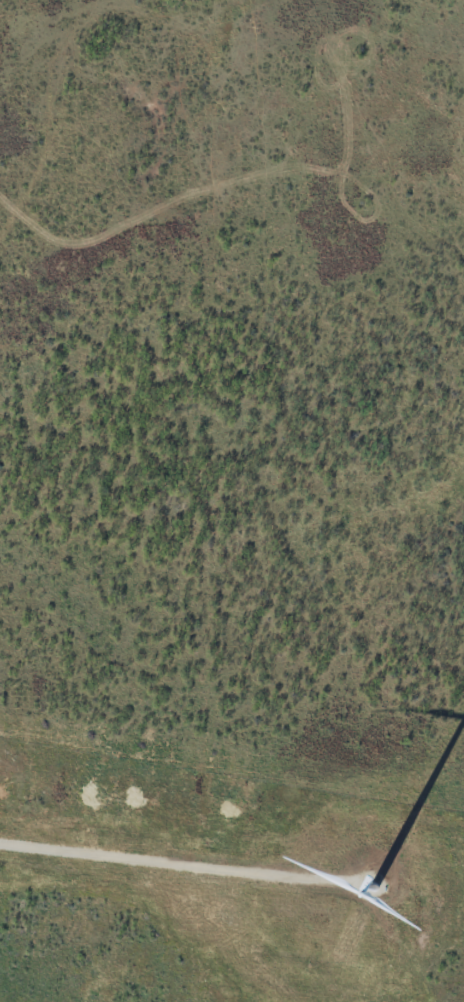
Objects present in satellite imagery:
road: (147, 876)
wind turbine: (371, 892)

